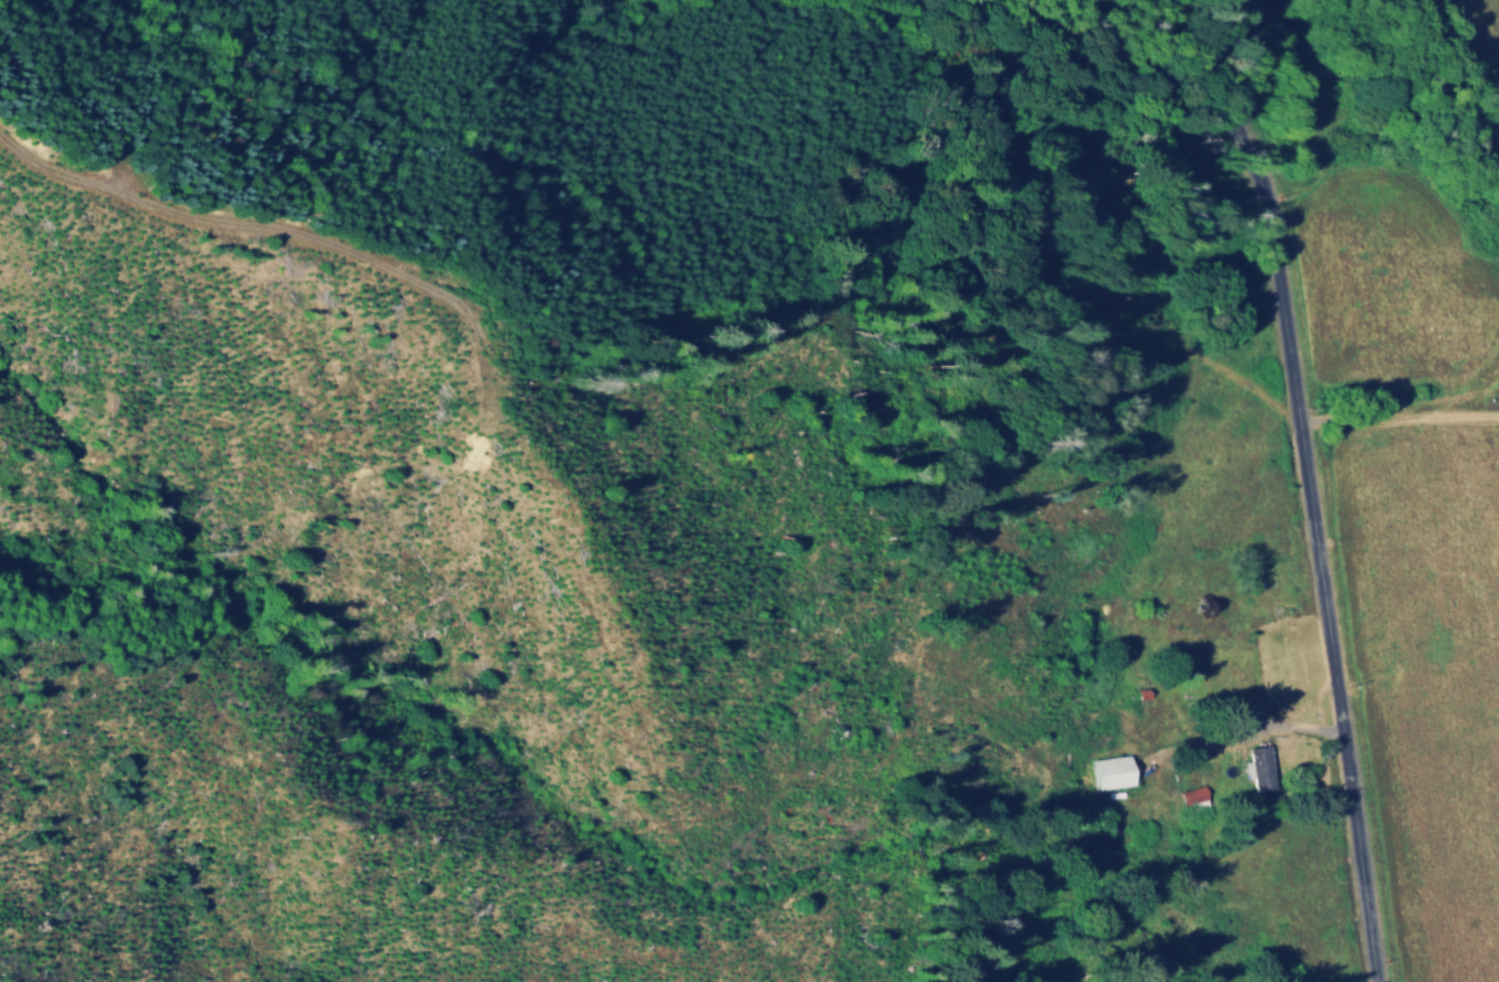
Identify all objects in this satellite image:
road: (1308, 491)
road: (1291, 724)
building: (1261, 767)
building: (1112, 769)

